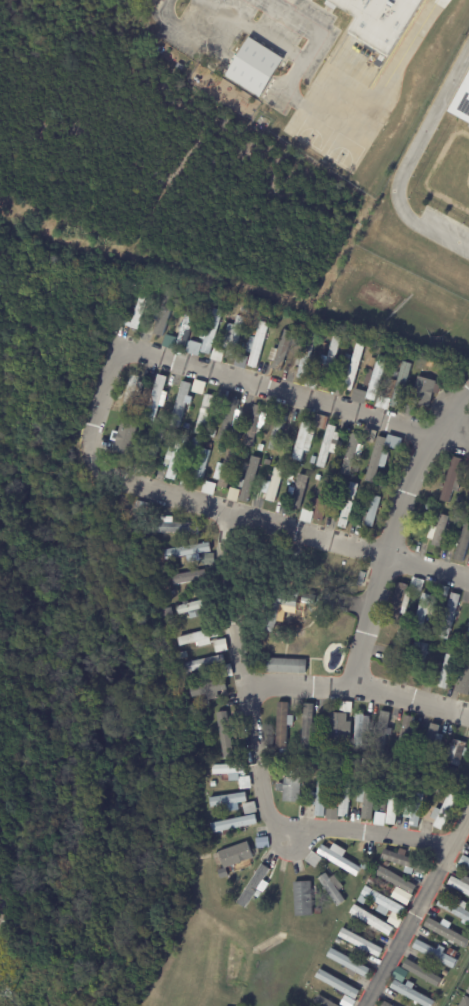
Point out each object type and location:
building: (379, 21)
building: (253, 67)
building: (461, 101)
road: (328, 117)
road: (407, 163)
building: (161, 286)
building: (242, 311)
building: (138, 313)
building: (162, 313)
building: (185, 323)
building: (210, 331)
building: (301, 336)
building: (231, 338)
building: (168, 340)
building: (256, 346)
building: (325, 347)
building: (192, 348)
building: (280, 351)
building: (216, 354)
building: (305, 356)
building: (347, 358)
building: (330, 360)
building: (351, 370)
building: (394, 374)
building: (420, 375)
building: (375, 379)
building: (398, 386)
building: (130, 392)
building: (425, 393)
building: (358, 396)
building: (156, 398)
building: (180, 405)
road: (453, 412)
building: (202, 415)
building: (229, 416)
road: (93, 418)
building: (319, 422)
building: (186, 426)
building: (253, 427)
building: (277, 432)
building: (123, 438)
building: (219, 439)
building: (302, 442)
building: (194, 443)
building: (327, 447)
building: (259, 448)
building: (152, 452)
building: (350, 455)
building: (244, 456)
building: (381, 456)
building: (175, 457)
building: (312, 460)
building: (466, 463)
building: (200, 466)
building: (227, 468)
building: (290, 477)
building: (316, 478)
building: (248, 480)
building: (452, 480)
building: (272, 486)
building: (207, 487)
building: (298, 492)
building: (368, 493)
building: (232, 494)
building: (323, 498)
building: (458, 500)
building: (348, 506)
building: (427, 506)
building: (141, 507)
building: (373, 511)
building: (305, 516)
building: (172, 527)
building: (438, 531)
building: (463, 543)
building: (186, 552)
building: (291, 553)
road: (387, 556)
building: (206, 561)
building: (182, 562)
building: (187, 578)
building: (360, 579)
building: (416, 585)
building: (442, 591)
building: (172, 592)
building: (399, 600)
building: (291, 608)
building: (189, 609)
building: (422, 612)
building: (165, 614)
building: (449, 615)
building: (468, 633)
building: (197, 638)
building: (219, 646)
building: (395, 652)
building: (180, 655)
building: (203, 664)
building: (286, 667)
building: (225, 671)
building: (446, 671)
building: (462, 680)
road: (297, 685)
building: (207, 689)
building: (189, 701)
road: (409, 703)
building: (206, 704)
building: (346, 707)
building: (393, 715)
building: (281, 726)
building: (307, 727)
building: (338, 730)
building: (358, 732)
building: (381, 733)
building: (224, 734)
building: (406, 738)
building: (318, 739)
building: (431, 746)
building: (456, 752)
building: (340, 758)
road: (258, 759)
building: (362, 760)
building: (312, 764)
building: (284, 765)
building: (290, 766)
building: (452, 769)
building: (229, 770)
building: (383, 777)
building: (226, 778)
building: (441, 782)
building: (290, 788)
building: (320, 795)
building: (367, 796)
building: (228, 800)
building: (344, 801)
building: (392, 802)
building: (248, 808)
building: (214, 810)
building: (417, 810)
building: (444, 812)
building: (330, 813)
building: (378, 819)
building: (232, 824)
building: (260, 843)
building: (233, 855)
building: (312, 859)
building: (339, 860)
building: (464, 861)
building: (404, 862)
building: (387, 864)
building: (455, 870)
building: (371, 879)
building: (394, 880)
building: (370, 884)
building: (460, 885)
building: (253, 887)
building: (332, 888)
building: (444, 892)
building: (258, 893)
building: (302, 898)
building: (360, 899)
building: (385, 906)
road: (417, 909)
building: (454, 909)
building: (317, 912)
building: (353, 918)
building: (371, 920)
building: (462, 931)
building: (446, 932)
building: (338, 941)
building: (360, 942)
building: (435, 951)
building: (348, 963)
building: (423, 973)
building: (441, 973)
building: (398, 974)
building: (337, 984)
building: (468, 989)
building: (411, 993)
building: (317, 999)
building: (464, 1002)
building: (395, 1003)

